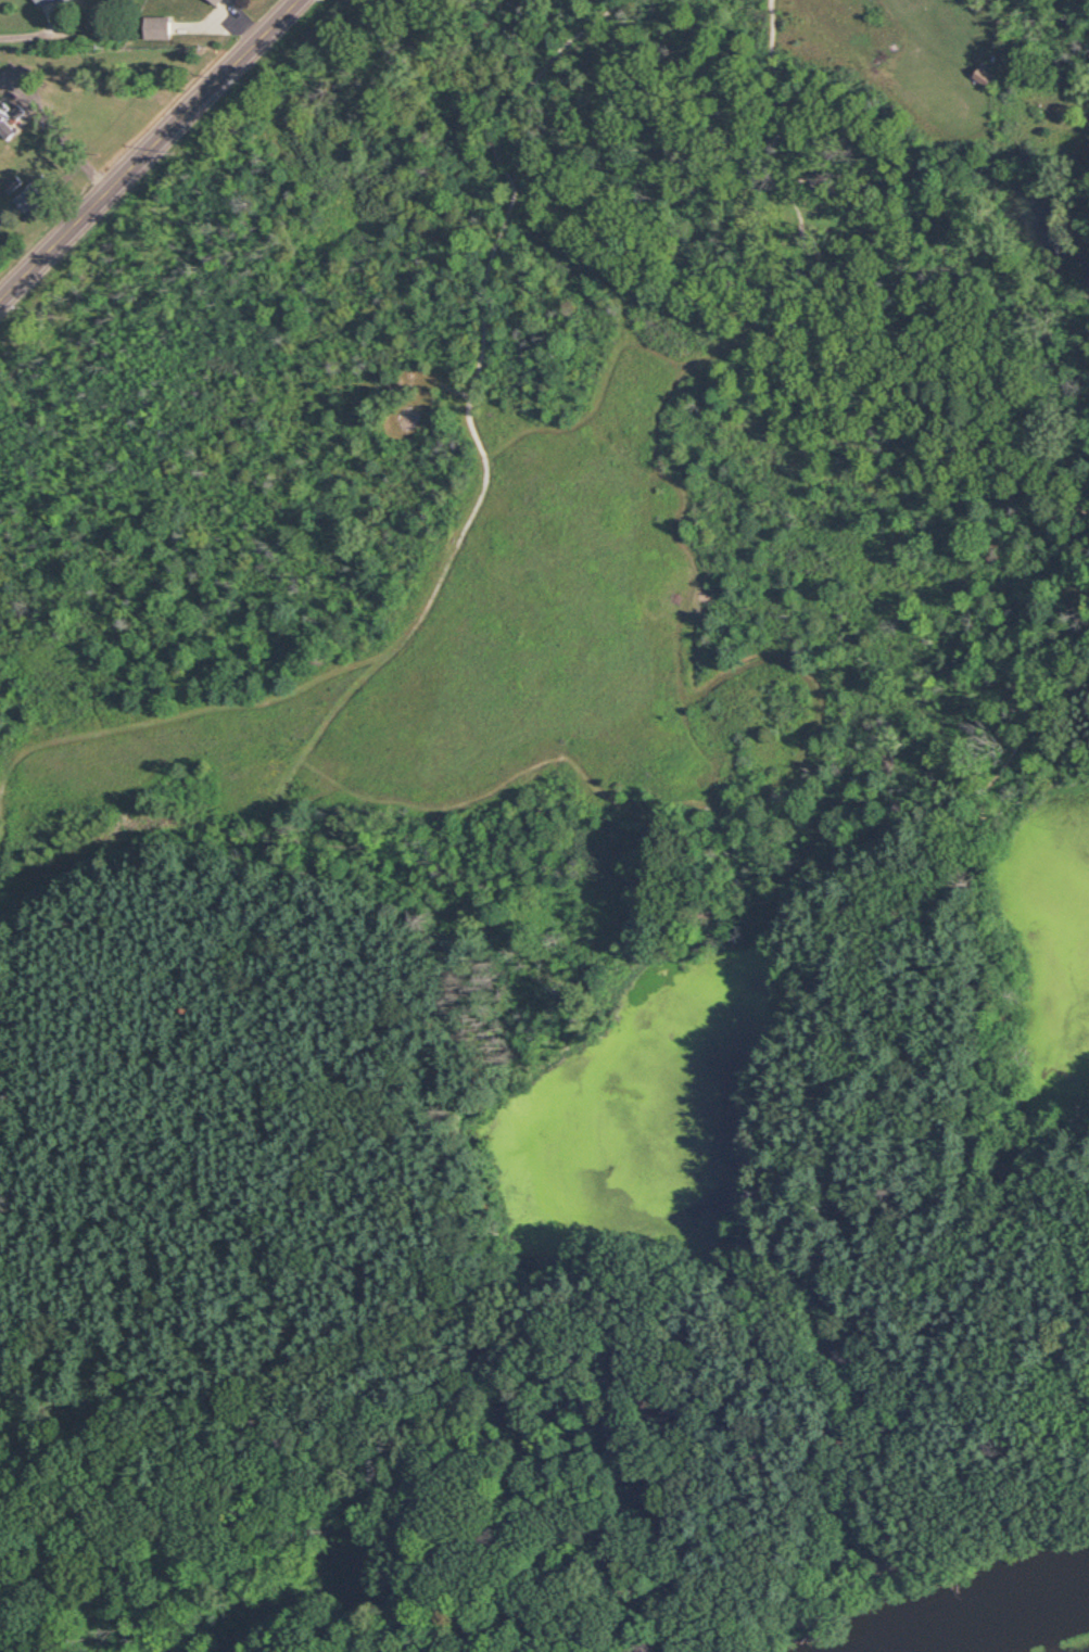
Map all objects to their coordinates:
building: (63, 0)
building: (42, 1)
building: (215, 1)
building: (156, 27)
road: (28, 36)
building: (986, 75)
road: (784, 118)
building: (8, 119)
road: (56, 134)
road: (147, 150)
building: (11, 183)
building: (27, 196)
road: (801, 231)
road: (584, 269)
road: (686, 285)
road: (482, 316)
road: (717, 348)
road: (902, 407)
road: (763, 660)
road: (1065, 716)
road: (1026, 721)
road: (326, 724)
road: (145, 726)
road: (702, 750)
road: (275, 818)
park: (557, 848)
road: (264, 851)
road: (253, 881)
road: (115, 960)
road: (2, 978)
road: (995, 1009)
road: (420, 1095)
road: (0, 1162)
road: (780, 1186)
road: (1040, 1215)
road: (179, 1225)
road: (479, 1282)
road: (835, 1314)
road: (233, 1342)
road: (885, 1486)
road: (820, 1559)
road: (840, 1560)
road: (868, 1561)
road: (810, 1588)
road: (737, 1624)
river: (1017, 1627)
road: (633, 1651)

